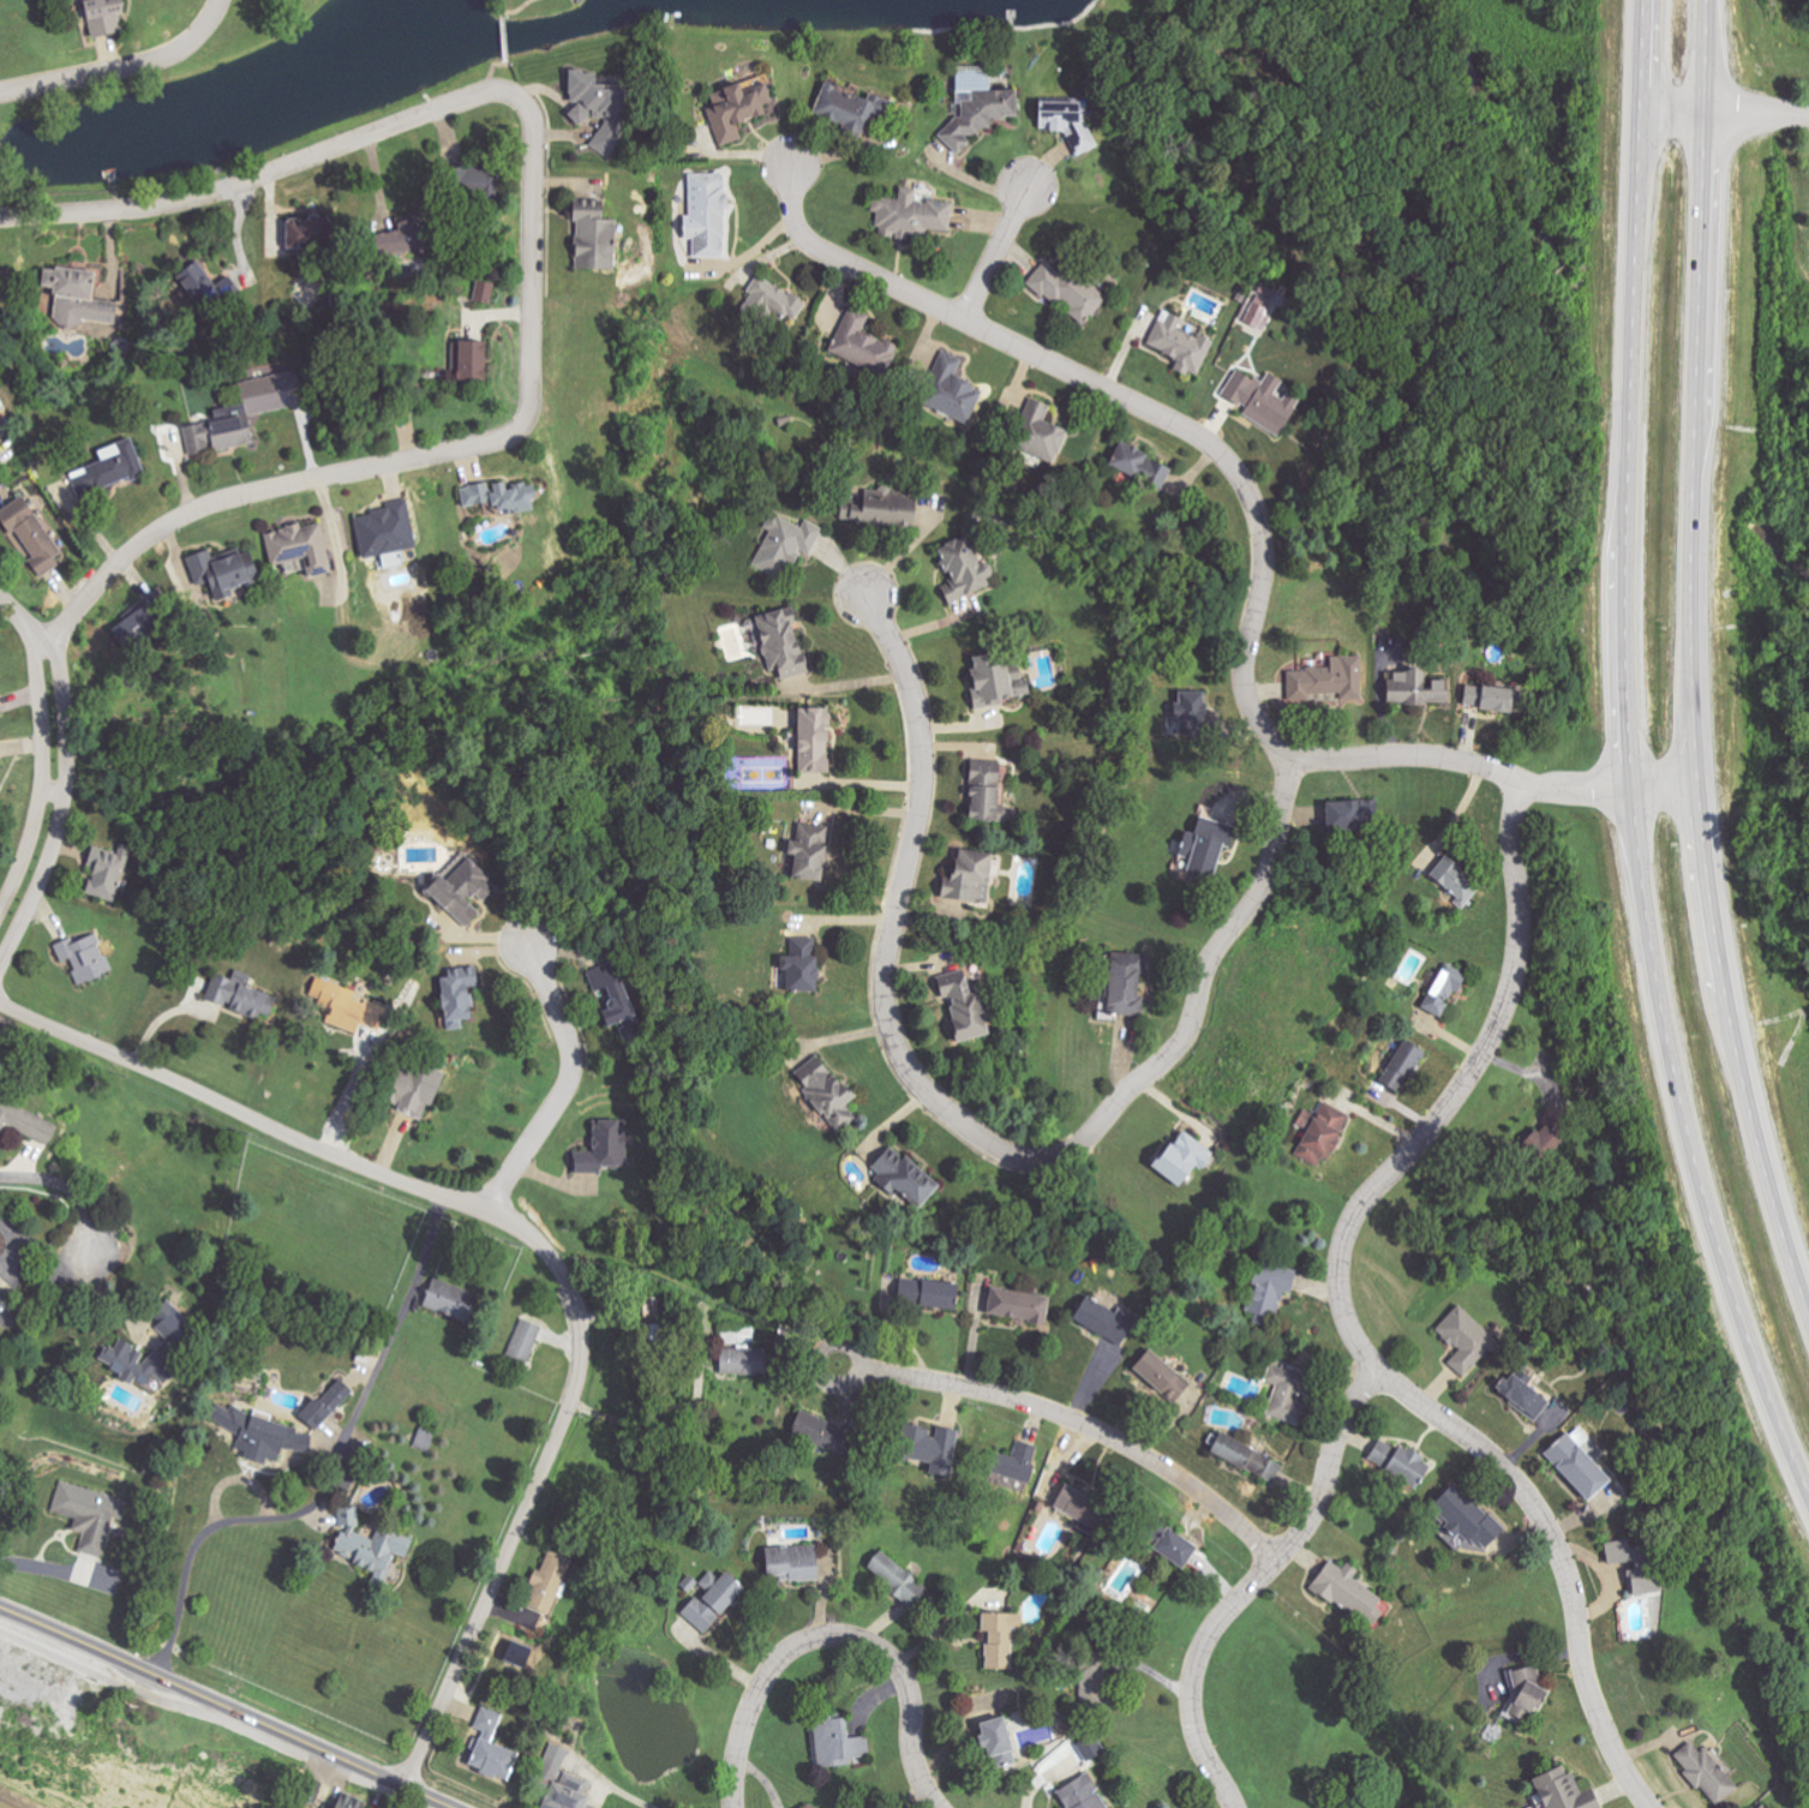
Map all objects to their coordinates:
building: (103, 16)
road: (498, 34)
road: (124, 68)
building: (972, 78)
building: (847, 107)
building: (594, 108)
building: (736, 108)
road: (1757, 113)
building: (977, 115)
building: (1067, 122)
road: (247, 180)
building: (473, 180)
building: (706, 215)
building: (910, 215)
building: (591, 231)
road: (533, 243)
road: (998, 252)
building: (208, 286)
building: (483, 292)
building: (1066, 292)
building: (78, 299)
building: (771, 303)
building: (1259, 317)
building: (862, 345)
building: (1180, 345)
building: (468, 361)
building: (950, 389)
building: (1262, 401)
road: (1132, 403)
building: (259, 409)
building: (1, 433)
building: (1038, 433)
building: (1139, 467)
building: (110, 468)
road: (259, 490)
building: (502, 497)
building: (876, 510)
building: (384, 531)
building: (26, 532)
building: (785, 544)
building: (300, 546)
building: (223, 571)
building: (962, 571)
building: (778, 645)
road: (1689, 665)
building: (1328, 681)
building: (995, 682)
building: (1413, 688)
building: (1486, 699)
building: (0, 714)
building: (1188, 714)
building: (811, 741)
road: (1412, 756)
road: (1629, 760)
road: (55, 761)
building: (0, 767)
road: (1564, 790)
building: (983, 794)
building: (1352, 816)
building: (1206, 848)
building: (809, 849)
building: (107, 872)
building: (966, 879)
building: (1454, 881)
building: (461, 892)
building: (84, 958)
building: (799, 964)
building: (1125, 986)
building: (1442, 990)
building: (456, 995)
building: (238, 996)
building: (611, 1001)
building: (346, 1010)
building: (962, 1011)
building: (1401, 1067)
road: (569, 1080)
building: (413, 1089)
building: (825, 1094)
road: (355, 1096)
building: (26, 1124)
road: (960, 1125)
building: (1553, 1131)
building: (1320, 1133)
building: (605, 1147)
building: (1184, 1157)
building: (901, 1177)
road: (66, 1190)
road: (539, 1241)
road: (14, 1244)
building: (1268, 1292)
building: (936, 1293)
building: (449, 1299)
building: (1017, 1305)
building: (2, 1309)
road: (1344, 1311)
building: (1102, 1318)
building: (739, 1336)
building: (1464, 1339)
building: (525, 1340)
building: (742, 1360)
building: (136, 1361)
building: (1160, 1375)
building: (1284, 1393)
building: (1520, 1395)
building: (325, 1405)
road: (1072, 1420)
building: (817, 1430)
building: (260, 1433)
road: (681, 1436)
building: (426, 1439)
building: (928, 1445)
building: (1245, 1456)
building: (1013, 1462)
building: (1575, 1462)
building: (1406, 1466)
road: (337, 1479)
building: (1077, 1505)
building: (89, 1514)
building: (1464, 1516)
building: (1150, 1532)
building: (370, 1544)
building: (1172, 1547)
road: (1562, 1561)
building: (791, 1562)
building: (1634, 1565)
building: (897, 1579)
building: (547, 1582)
building: (1347, 1591)
building: (709, 1599)
road: (835, 1634)
building: (999, 1638)
building: (1089, 1689)
building: (1523, 1694)
road: (227, 1707)
road: (210, 1716)
building: (487, 1720)
building: (837, 1743)
building: (993, 1744)
building: (1085, 1747)
building: (490, 1759)
building: (1707, 1772)
building: (562, 1783)
building: (307, 1790)
building: (1562, 1790)
building: (1076, 1794)
building: (348, 1801)

